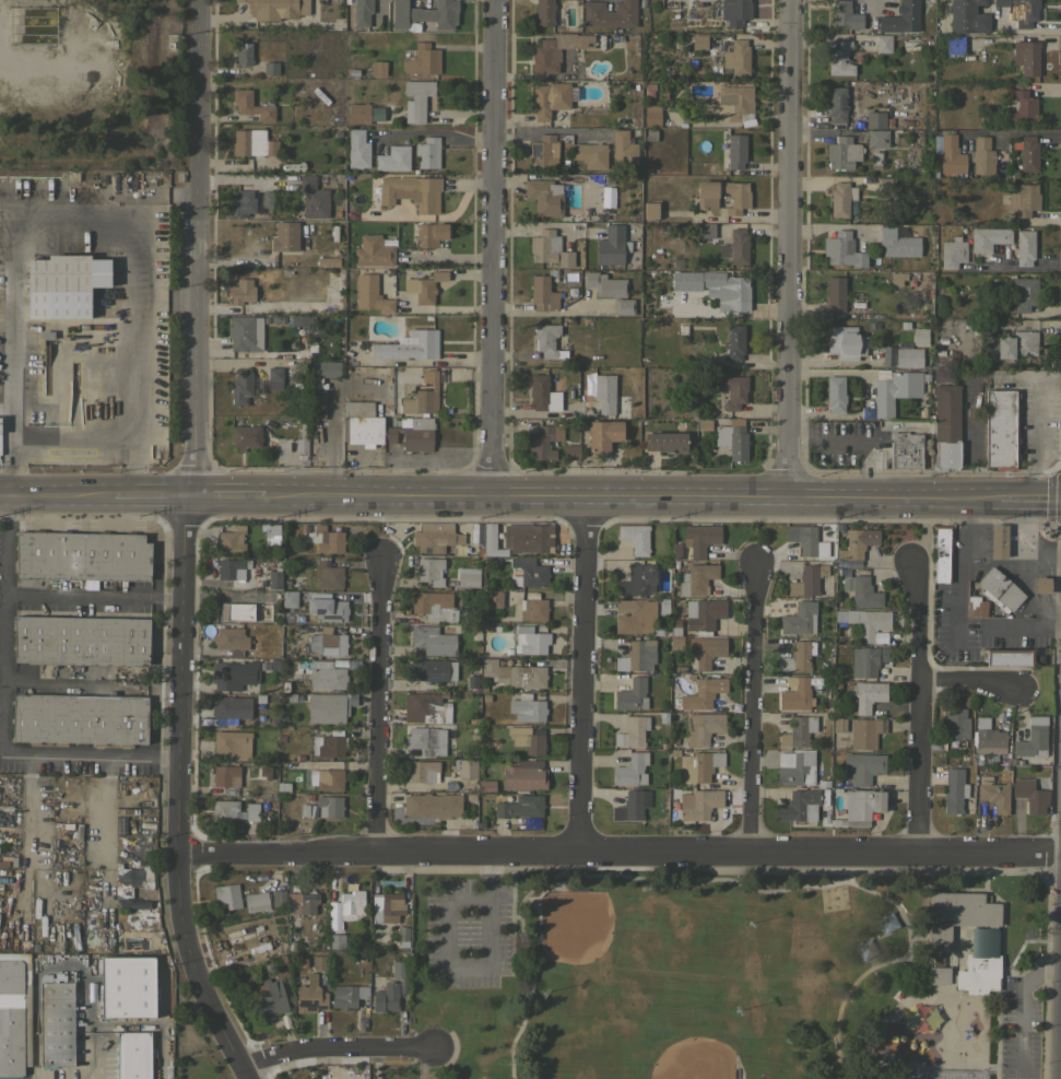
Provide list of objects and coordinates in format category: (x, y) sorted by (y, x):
building: (275, 8)
building: (1022, 10)
building: (361, 11)
building: (734, 11)
building: (545, 12)
building: (425, 13)
building: (610, 13)
building: (845, 15)
building: (967, 16)
building: (899, 17)
building: (699, 42)
building: (883, 43)
building: (954, 44)
building: (556, 49)
building: (243, 52)
building: (1025, 56)
building: (736, 57)
building: (839, 58)
building: (422, 59)
building: (270, 67)
building: (377, 68)
building: (549, 98)
building: (414, 99)
building: (837, 103)
building: (244, 104)
building: (733, 104)
building: (1023, 106)
building: (364, 113)
building: (651, 117)
building: (875, 119)
building: (624, 120)
road: (542, 129)
road: (1021, 131)
road: (435, 132)
building: (649, 134)
building: (876, 138)
building: (255, 144)
building: (357, 148)
building: (623, 148)
building: (544, 150)
building: (735, 150)
building: (427, 152)
building: (1027, 152)
building: (842, 153)
building: (590, 154)
building: (951, 154)
building: (982, 155)
building: (393, 157)
building: (875, 160)
building: (883, 184)
building: (411, 191)
building: (840, 196)
building: (313, 197)
building: (544, 197)
building: (1023, 198)
building: (266, 199)
building: (706, 199)
building: (241, 202)
building: (648, 210)
road: (47, 219)
building: (706, 230)
building: (431, 233)
building: (284, 236)
building: (988, 237)
building: (897, 243)
building: (610, 245)
building: (738, 245)
building: (1024, 247)
road: (490, 248)
building: (549, 248)
road: (779, 248)
road: (190, 249)
building: (842, 249)
building: (373, 250)
building: (952, 251)
building: (325, 261)
road: (1015, 268)
building: (63, 284)
building: (604, 284)
building: (423, 286)
building: (240, 291)
building: (542, 293)
building: (730, 293)
building: (835, 293)
building: (1023, 293)
building: (370, 294)
building: (624, 306)
building: (275, 319)
building: (298, 319)
building: (987, 330)
building: (245, 333)
building: (920, 336)
building: (545, 338)
building: (733, 341)
building: (846, 342)
building: (1017, 344)
building: (409, 345)
building: (886, 355)
building: (908, 356)
road: (423, 361)
building: (325, 368)
building: (274, 378)
building: (240, 388)
building: (895, 390)
building: (604, 391)
building: (733, 391)
building: (835, 392)
building: (542, 394)
building: (422, 396)
building: (316, 407)
building: (357, 408)
road: (541, 413)
building: (946, 424)
road: (332, 429)
building: (1001, 429)
building: (362, 431)
building: (412, 433)
building: (602, 434)
road: (104, 436)
building: (245, 437)
road: (850, 437)
building: (302, 439)
building: (732, 439)
building: (543, 441)
building: (664, 442)
building: (570, 450)
building: (904, 450)
road: (14, 465)
road: (132, 468)
road: (519, 496)
road: (887, 497)
road: (1030, 497)
road: (55, 499)
road: (148, 499)
road: (225, 499)
building: (269, 530)
road: (1018, 532)
building: (435, 536)
building: (528, 537)
building: (635, 537)
building: (699, 538)
building: (803, 538)
building: (328, 539)
building: (232, 540)
building: (998, 540)
building: (857, 542)
building: (491, 544)
building: (942, 552)
building: (81, 555)
road: (1022, 568)
building: (429, 570)
road: (960, 570)
building: (236, 572)
building: (529, 572)
building: (327, 573)
building: (274, 576)
building: (468, 576)
building: (696, 578)
building: (807, 579)
building: (637, 580)
building: (1041, 585)
road: (1, 589)
building: (1000, 589)
building: (861, 590)
building: (290, 598)
building: (494, 598)
road: (92, 603)
building: (434, 605)
building: (663, 606)
building: (327, 608)
building: (532, 608)
building: (976, 608)
building: (236, 613)
building: (632, 614)
building: (704, 614)
building: (799, 618)
building: (863, 621)
road: (1022, 626)
building: (472, 630)
building: (81, 640)
building: (229, 640)
building: (433, 640)
building: (529, 641)
building: (326, 642)
building: (673, 643)
building: (706, 649)
building: (637, 656)
building: (1009, 656)
building: (795, 657)
building: (868, 659)
building: (272, 666)
building: (427, 669)
building: (314, 672)
building: (514, 673)
road: (582, 673)
building: (234, 675)
building: (689, 676)
road: (48, 682)
building: (471, 682)
road: (966, 682)
building: (702, 693)
building: (794, 693)
building: (632, 694)
building: (868, 694)
road: (377, 705)
road: (917, 705)
building: (329, 706)
building: (876, 706)
road: (750, 707)
building: (229, 708)
building: (425, 708)
building: (526, 708)
building: (79, 718)
building: (838, 724)
building: (702, 727)
building: (955, 728)
building: (632, 730)
building: (797, 731)
building: (865, 731)
building: (989, 735)
building: (527, 738)
building: (1031, 738)
building: (426, 740)
building: (232, 743)
building: (329, 743)
road: (87, 758)
building: (699, 765)
building: (795, 766)
building: (861, 766)
building: (464, 767)
building: (630, 769)
building: (422, 771)
building: (263, 772)
building: (523, 775)
building: (226, 777)
building: (326, 778)
building: (486, 785)
building: (954, 790)
building: (993, 794)
road: (177, 795)
building: (1029, 795)
building: (698, 804)
building: (329, 805)
building: (432, 805)
building: (519, 806)
building: (630, 806)
building: (798, 806)
building: (3, 807)
building: (860, 807)
building: (233, 810)
building: (303, 810)
road: (617, 852)
building: (146, 872)
road: (722, 881)
building: (126, 889)
building: (226, 896)
building: (278, 898)
building: (256, 901)
building: (303, 902)
building: (351, 904)
building: (385, 904)
building: (956, 914)
building: (887, 923)
park: (574, 925)
parking lot: (467, 931)
building: (402, 933)
building: (335, 940)
building: (246, 941)
building: (865, 949)
building: (304, 961)
building: (318, 961)
road: (471, 962)
building: (980, 962)
building: (399, 967)
building: (938, 971)
park: (734, 973)
building: (127, 986)
building: (309, 995)
building: (347, 995)
building: (385, 997)
building: (270, 998)
road: (1017, 1010)
building: (14, 1013)
building: (56, 1024)
parking lot: (1017, 1027)
road: (334, 1047)
road: (96, 1053)
building: (132, 1054)
park: (691, 1059)
park: (928, 1076)
park: (963, 1076)

